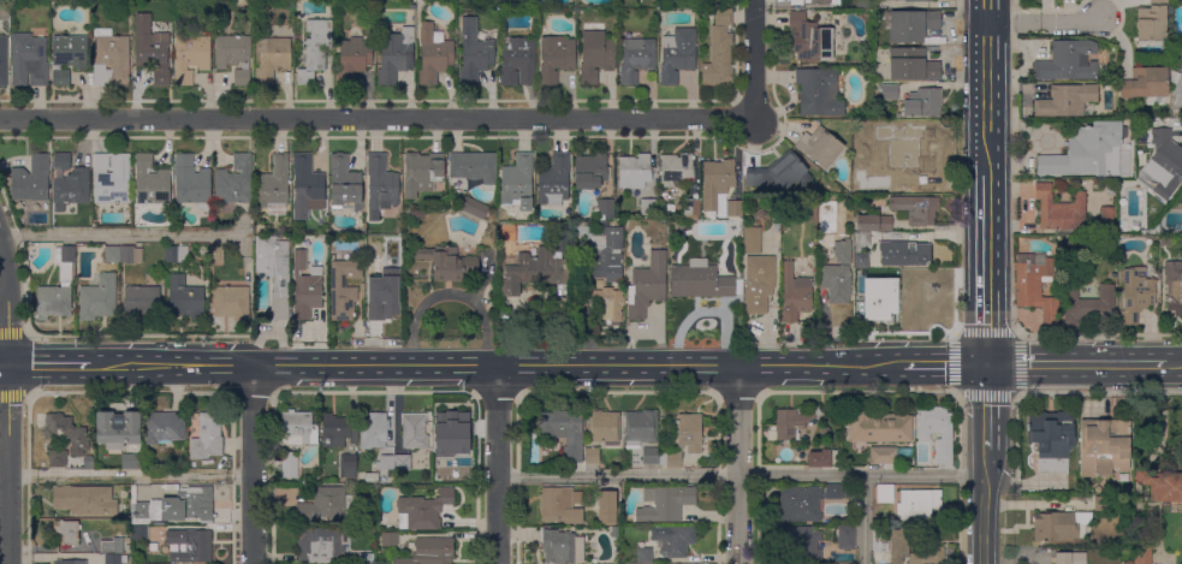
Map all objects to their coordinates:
building: (917, 0)
building: (420, 1)
building: (814, 1)
building: (414, 7)
road: (1045, 23)
building: (1152, 23)
building: (910, 24)
building: (297, 37)
building: (810, 37)
building: (152, 49)
building: (316, 49)
building: (474, 52)
building: (719, 52)
building: (396, 53)
building: (434, 54)
building: (677, 54)
building: (69, 57)
building: (234, 57)
building: (557, 57)
road: (754, 57)
building: (191, 58)
building: (596, 58)
building: (637, 58)
building: (111, 59)
building: (273, 59)
building: (354, 59)
building: (29, 60)
building: (4, 61)
building: (518, 61)
building: (1068, 61)
building: (913, 65)
building: (1146, 85)
road: (987, 87)
building: (886, 91)
building: (1178, 91)
building: (819, 93)
building: (1067, 100)
building: (923, 103)
road: (374, 119)
building: (820, 147)
building: (1086, 150)
building: (928, 154)
building: (63, 161)
building: (1164, 161)
building: (474, 166)
building: (677, 170)
building: (590, 171)
building: (635, 171)
building: (423, 172)
building: (778, 172)
building: (112, 178)
building: (32, 179)
building: (554, 180)
building: (152, 182)
building: (234, 182)
building: (308, 182)
building: (518, 182)
building: (717, 182)
building: (192, 183)
building: (345, 183)
building: (381, 184)
building: (274, 185)
building: (877, 186)
building: (71, 189)
building: (648, 207)
building: (691, 207)
building: (733, 208)
building: (916, 208)
building: (471, 209)
building: (605, 209)
building: (1061, 212)
building: (760, 213)
building: (417, 215)
building: (1106, 220)
building: (873, 222)
building: (506, 233)
road: (118, 234)
building: (563, 239)
building: (1020, 239)
building: (1165, 239)
building: (753, 241)
building: (604, 249)
building: (861, 250)
building: (843, 251)
building: (1181, 251)
building: (112, 254)
building: (131, 254)
building: (216, 254)
building: (904, 254)
building: (177, 255)
building: (449, 263)
road: (987, 269)
building: (533, 271)
building: (275, 272)
building: (871, 279)
building: (905, 280)
building: (381, 281)
building: (702, 281)
building: (759, 283)
building: (836, 283)
building: (599, 284)
building: (647, 285)
building: (1037, 285)
building: (58, 286)
building: (307, 286)
building: (1174, 286)
building: (344, 289)
building: (795, 293)
building: (1136, 295)
building: (99, 298)
building: (185, 298)
building: (142, 302)
building: (231, 302)
building: (610, 303)
building: (1088, 305)
building: (916, 314)
road: (4, 319)
building: (887, 320)
road: (1015, 332)
road: (4, 364)
road: (49, 364)
road: (497, 366)
road: (944, 366)
traffic signals: (987, 366)
road: (1067, 366)
road: (1164, 366)
road: (130, 393)
road: (987, 404)
road: (7, 406)
building: (791, 423)
building: (875, 426)
building: (165, 427)
building: (604, 427)
building: (118, 428)
building: (298, 428)
building: (640, 428)
building: (338, 431)
building: (374, 431)
building: (415, 431)
building: (937, 431)
building: (66, 432)
building: (565, 432)
building: (825, 432)
building: (207, 437)
building: (1051, 439)
building: (452, 440)
building: (684, 440)
building: (1104, 446)
road: (4, 449)
building: (592, 455)
building: (651, 455)
building: (884, 456)
building: (58, 458)
building: (820, 458)
building: (132, 461)
building: (386, 462)
building: (402, 462)
building: (88, 463)
road: (251, 464)
road: (497, 464)
building: (290, 465)
building: (348, 465)
road: (738, 465)
road: (741, 475)
road: (129, 476)
building: (461, 476)
building: (368, 477)
building: (382, 480)
building: (1163, 485)
building: (1098, 489)
building: (834, 492)
building: (885, 494)
building: (85, 500)
building: (1115, 501)
building: (666, 503)
road: (985, 503)
building: (1101, 503)
building: (189, 504)
building: (326, 504)
building: (800, 504)
building: (917, 504)
building: (560, 505)
building: (606, 507)
building: (423, 511)
building: (141, 513)
road: (863, 520)
building: (826, 521)
building: (1061, 526)
building: (372, 529)
building: (616, 530)
building: (67, 532)
building: (139, 533)
building: (847, 538)
building: (390, 539)
building: (899, 539)
building: (673, 540)
building: (881, 540)
building: (803, 541)
building: (113, 545)
building: (322, 545)
building: (191, 546)
building: (558, 546)
building: (129, 550)
building: (430, 552)
building: (1142, 552)
building: (645, 556)
building: (366, 558)
building: (1070, 558)
building: (113, 559)
building: (70, 562)
building: (1128, 563)

